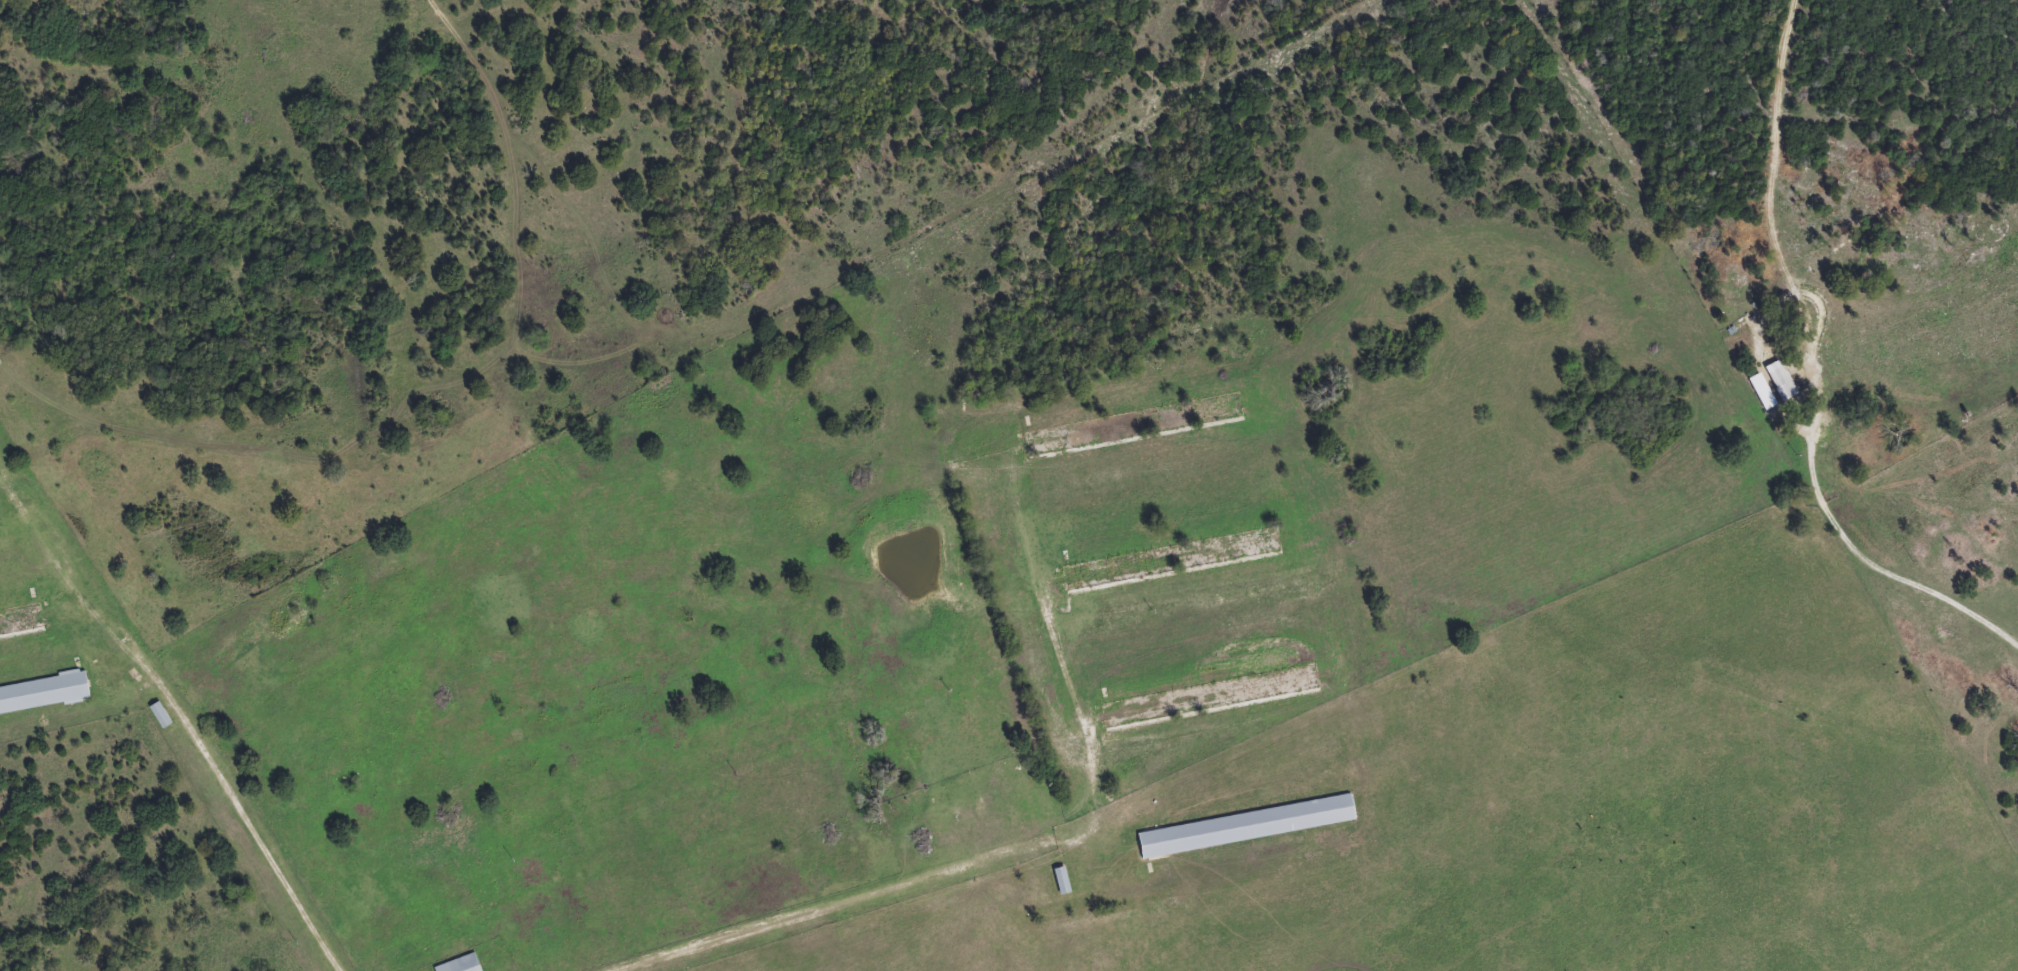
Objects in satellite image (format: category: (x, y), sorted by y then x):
building: (1783, 384)
building: (1120, 435)
building: (1067, 445)
building: (1136, 574)
building: (44, 693)
road: (164, 711)
building: (161, 714)
building: (947, 808)
building: (1247, 825)
building: (1062, 879)
building: (461, 964)

